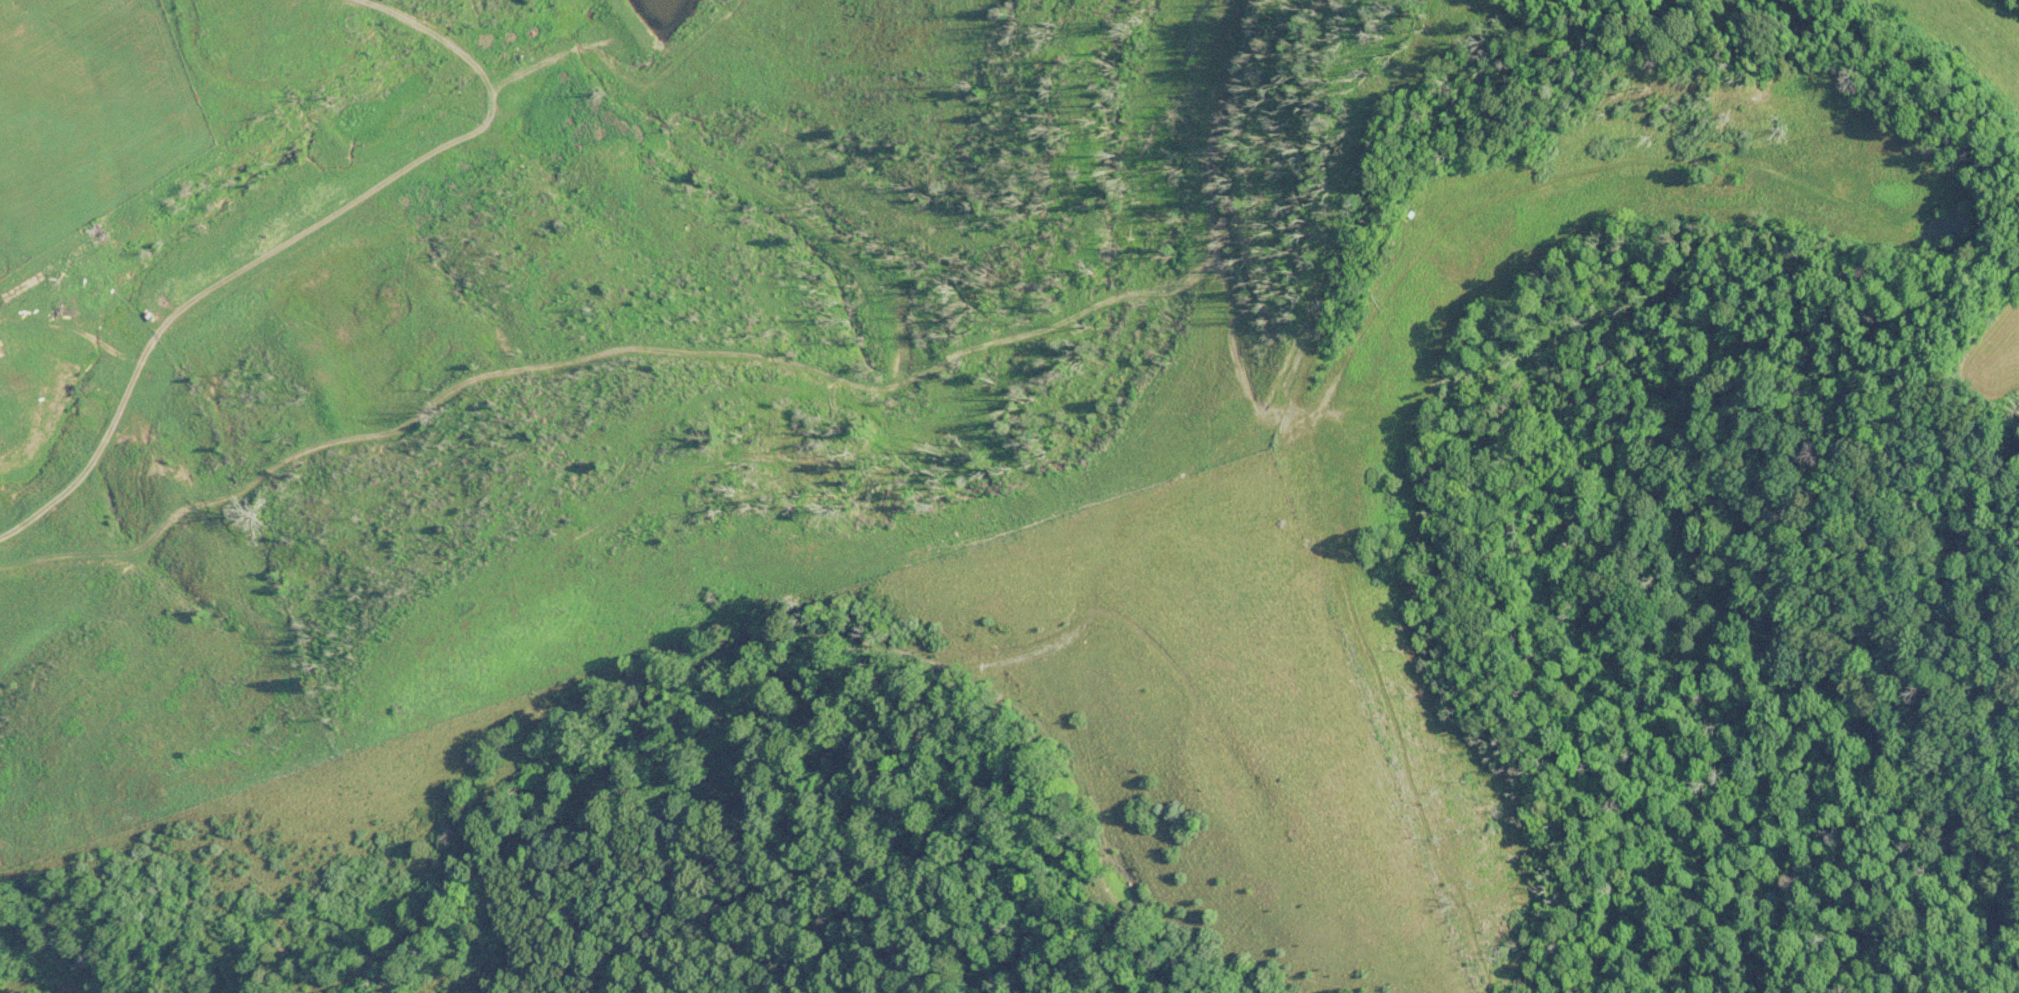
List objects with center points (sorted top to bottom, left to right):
building: (100, 231)
road: (288, 242)
building: (2, 353)

